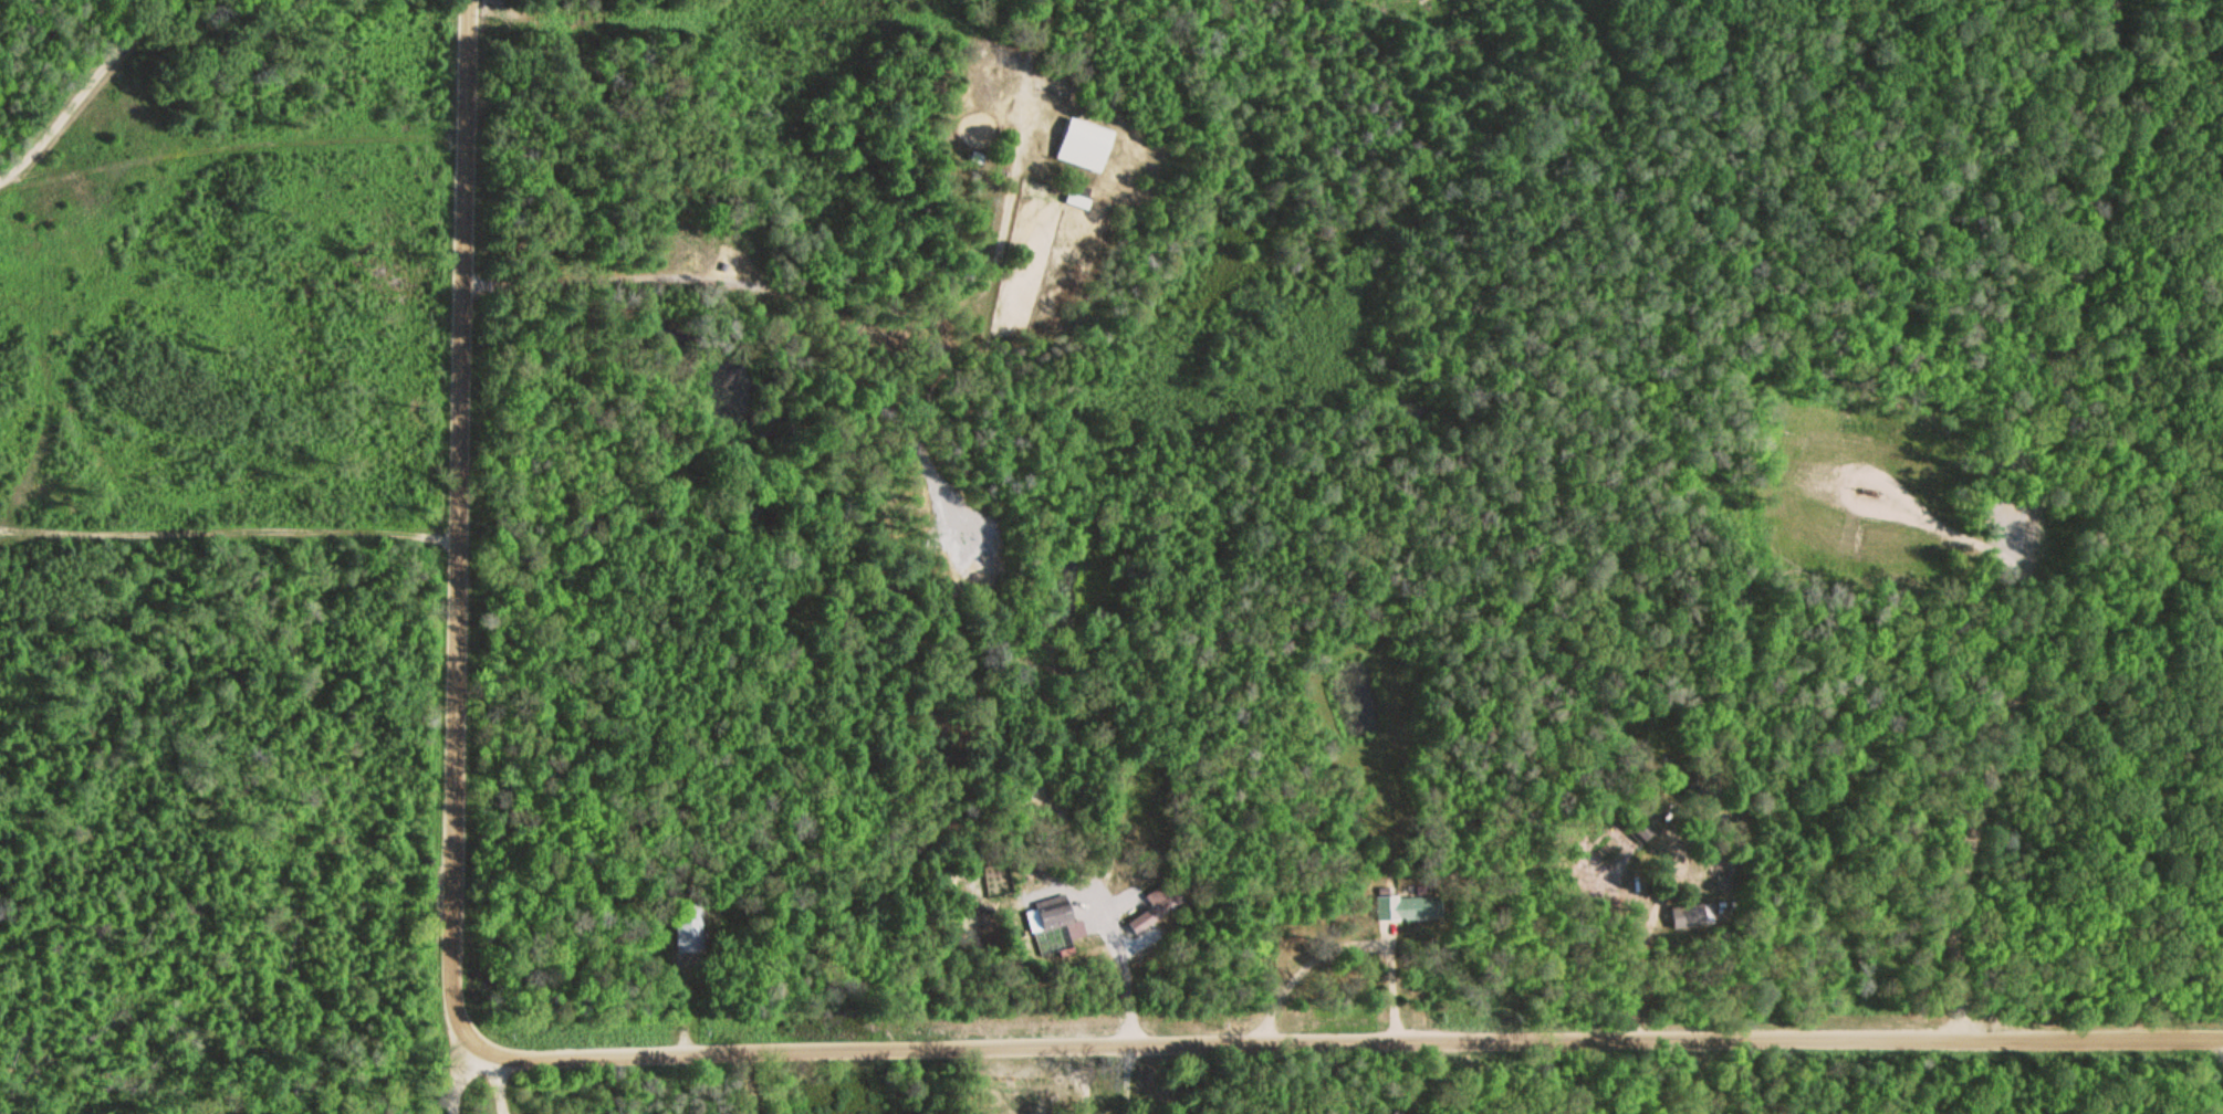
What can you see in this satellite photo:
road: (77, 86)
building: (1081, 147)
petroleum well: (1861, 493)
road: (461, 521)
building: (1405, 910)
building: (1050, 914)
building: (1150, 915)
building: (685, 935)
road: (1339, 1041)
road: (456, 1078)
road: (1694, 1078)

